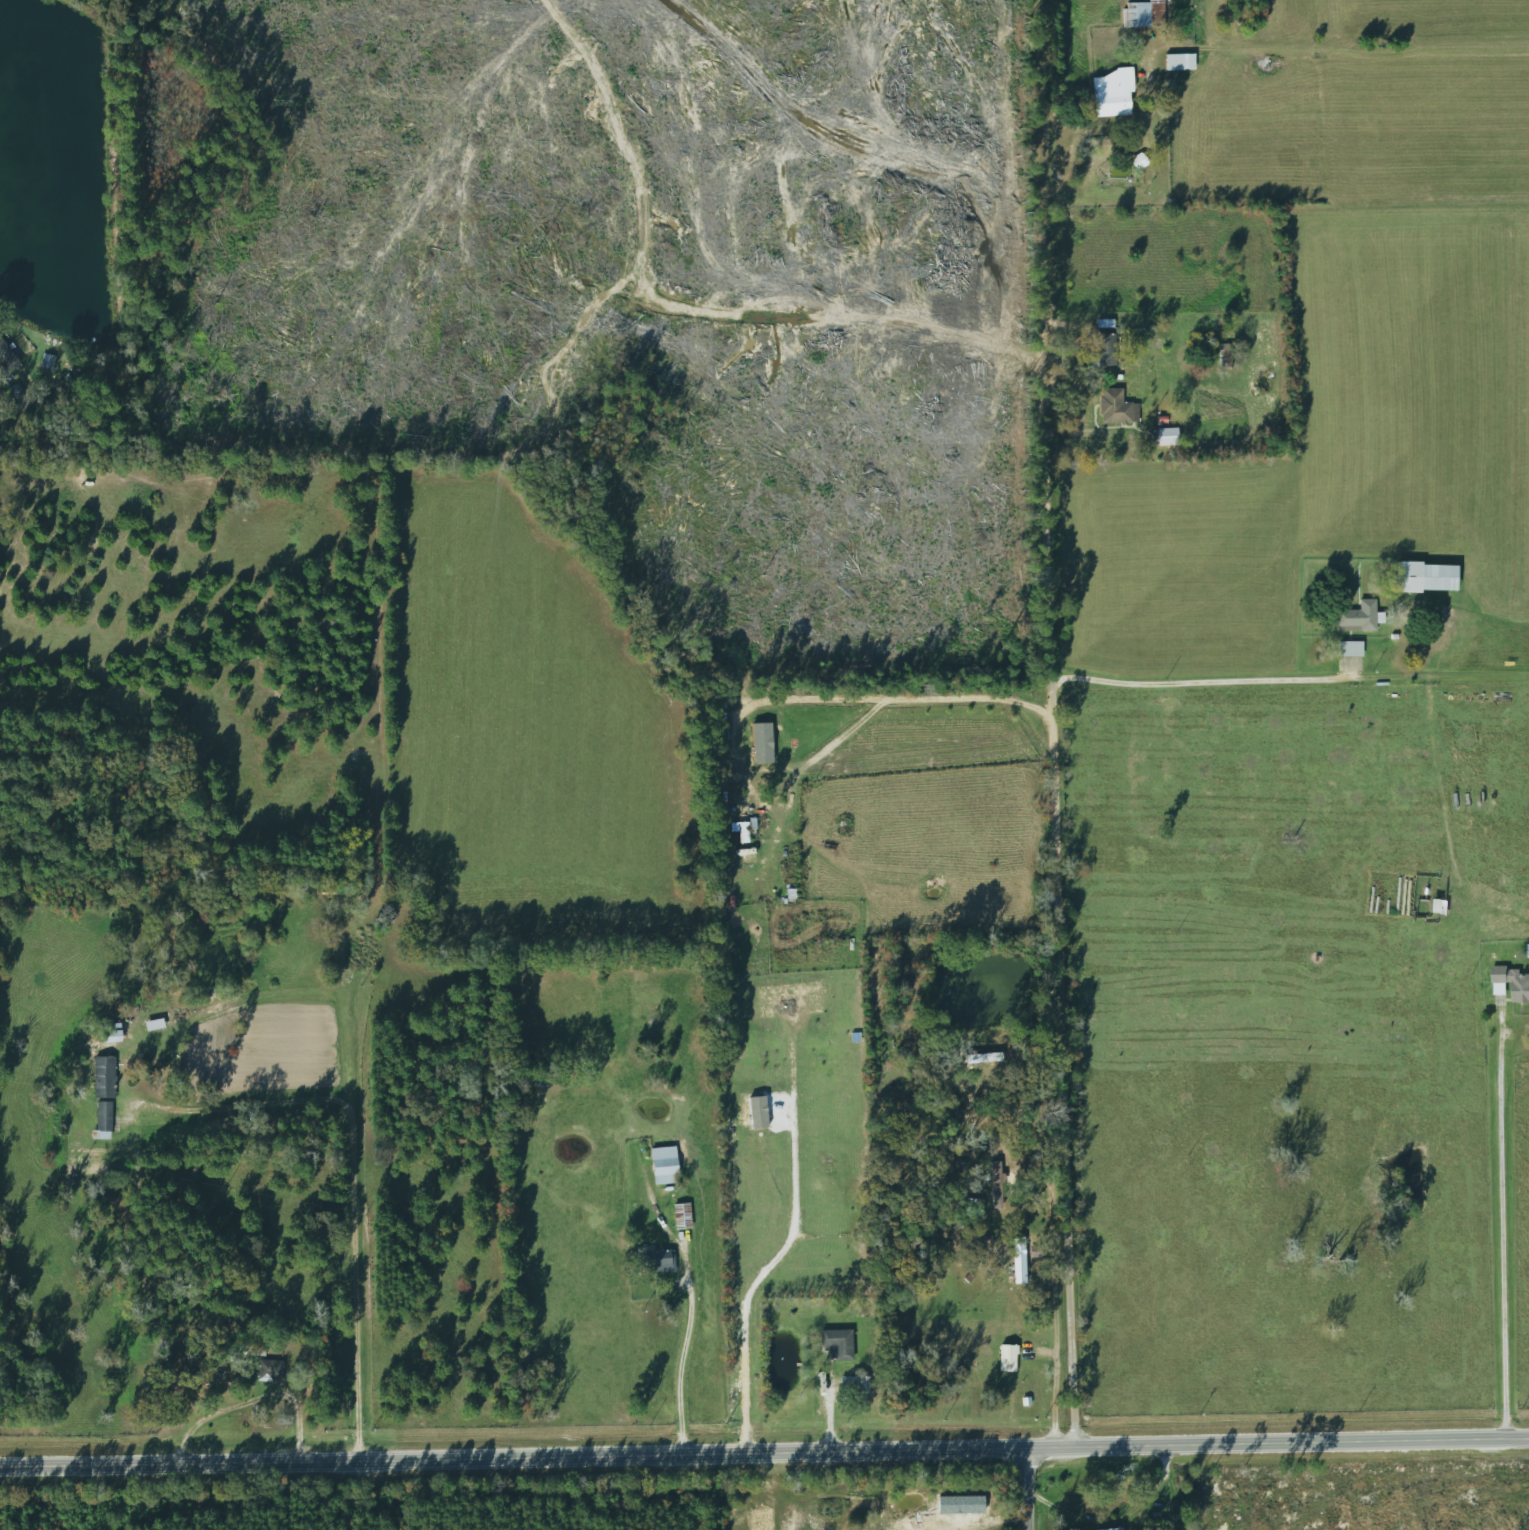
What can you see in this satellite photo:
building: (1138, 13)
building: (1179, 62)
building: (1111, 93)
building: (1101, 349)
building: (1223, 352)
building: (6, 359)
road: (19, 404)
building: (1116, 408)
building: (1163, 437)
building: (1425, 577)
building: (1357, 618)
building: (1349, 649)
road: (1208, 689)
road: (886, 704)
building: (761, 740)
road: (1064, 797)
building: (1512, 982)
building: (162, 1023)
building: (109, 1033)
building: (103, 1077)
building: (102, 1120)
building: (663, 1165)
building: (994, 1185)
road: (356, 1189)
building: (681, 1216)
road: (1500, 1249)
building: (657, 1261)
building: (1016, 1265)
road: (1054, 1318)
building: (836, 1343)
building: (257, 1347)
building: (1007, 1357)
road: (693, 1369)
building: (269, 1370)
building: (854, 1385)
road: (248, 1400)
road: (764, 1451)
road: (1041, 1490)
building: (1112, 1529)

